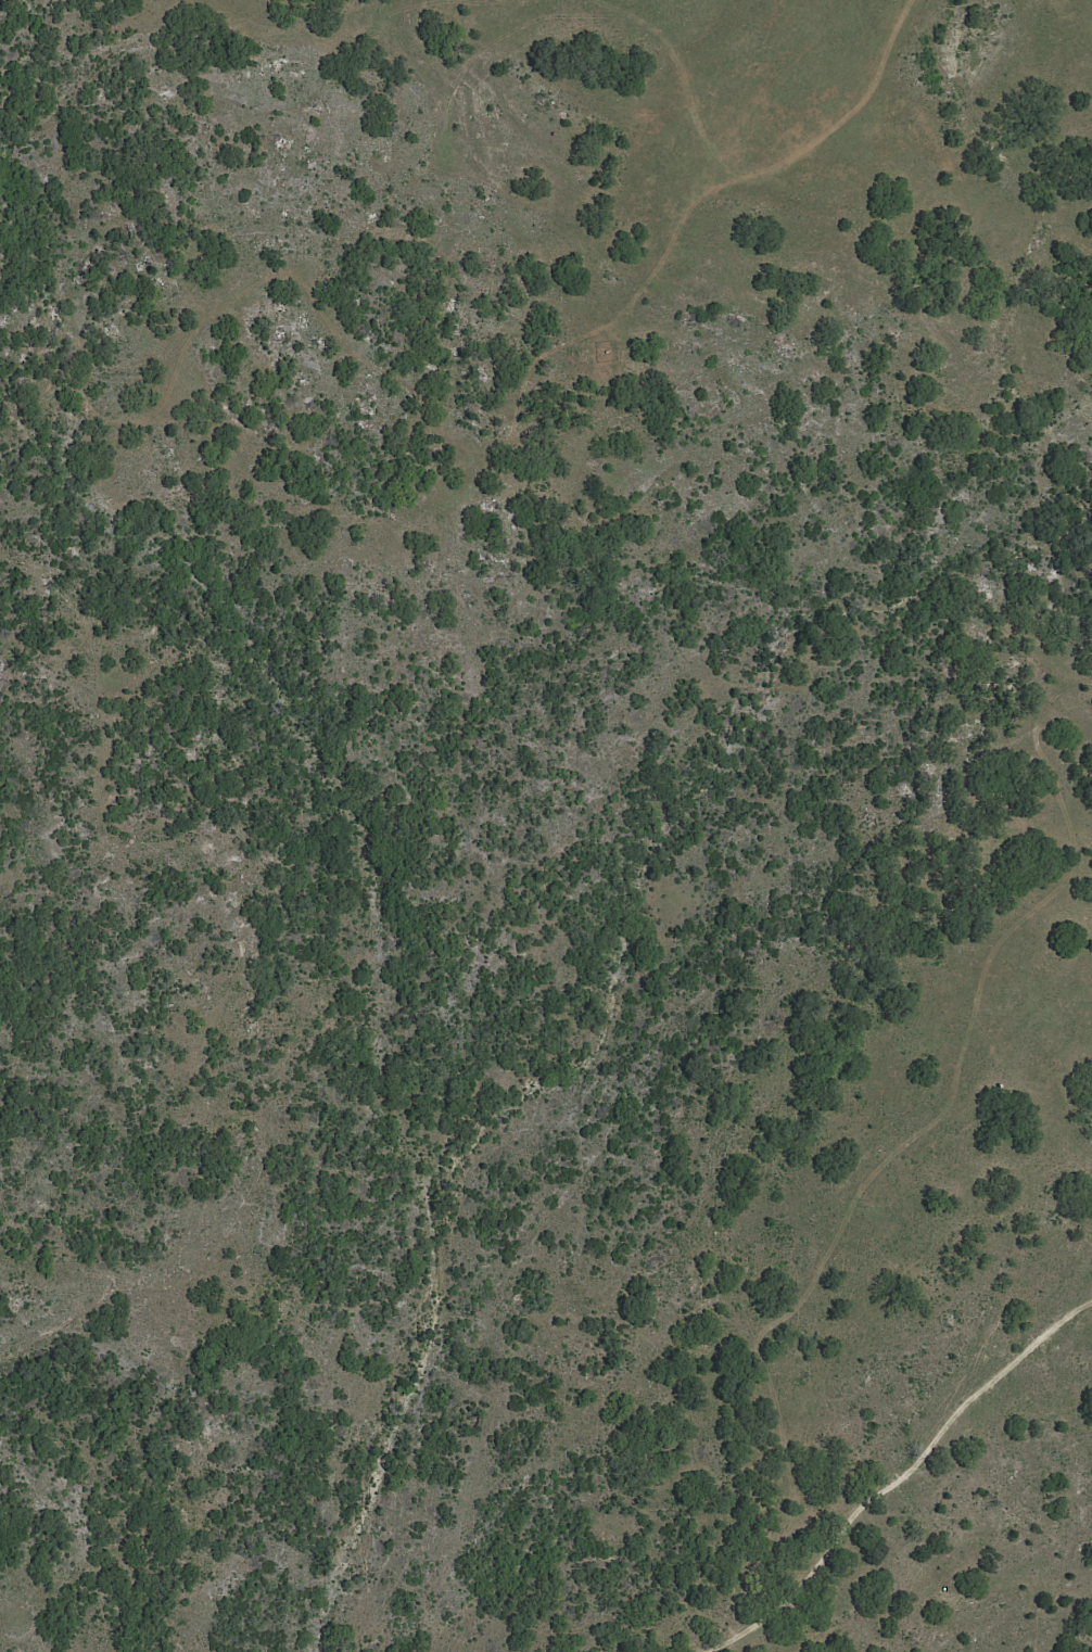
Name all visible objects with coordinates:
road: (901, 1481)

